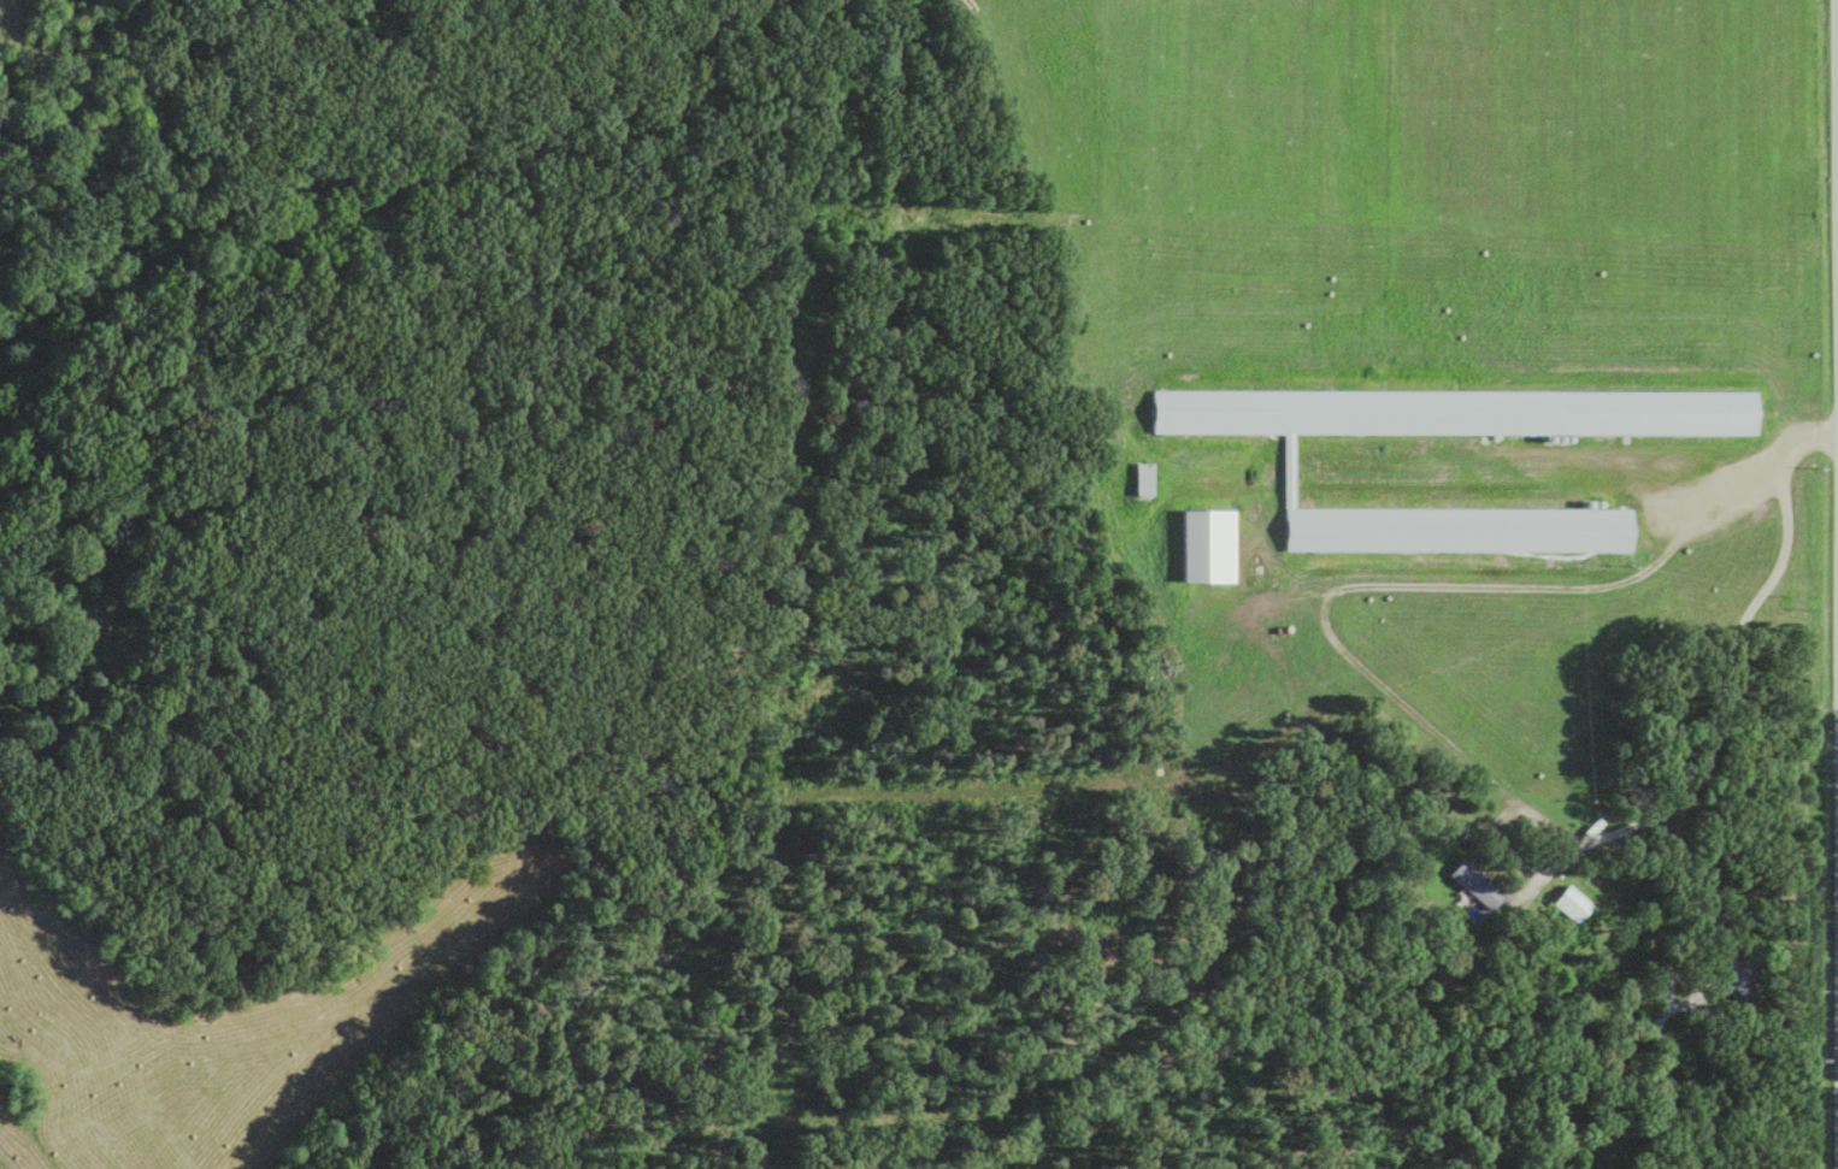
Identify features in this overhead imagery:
building: (1451, 414)
road: (1797, 444)
building: (1139, 480)
building: (1455, 531)
building: (1203, 547)
road: (1732, 659)
building: (1473, 886)
building: (1568, 904)
building: (1733, 979)

